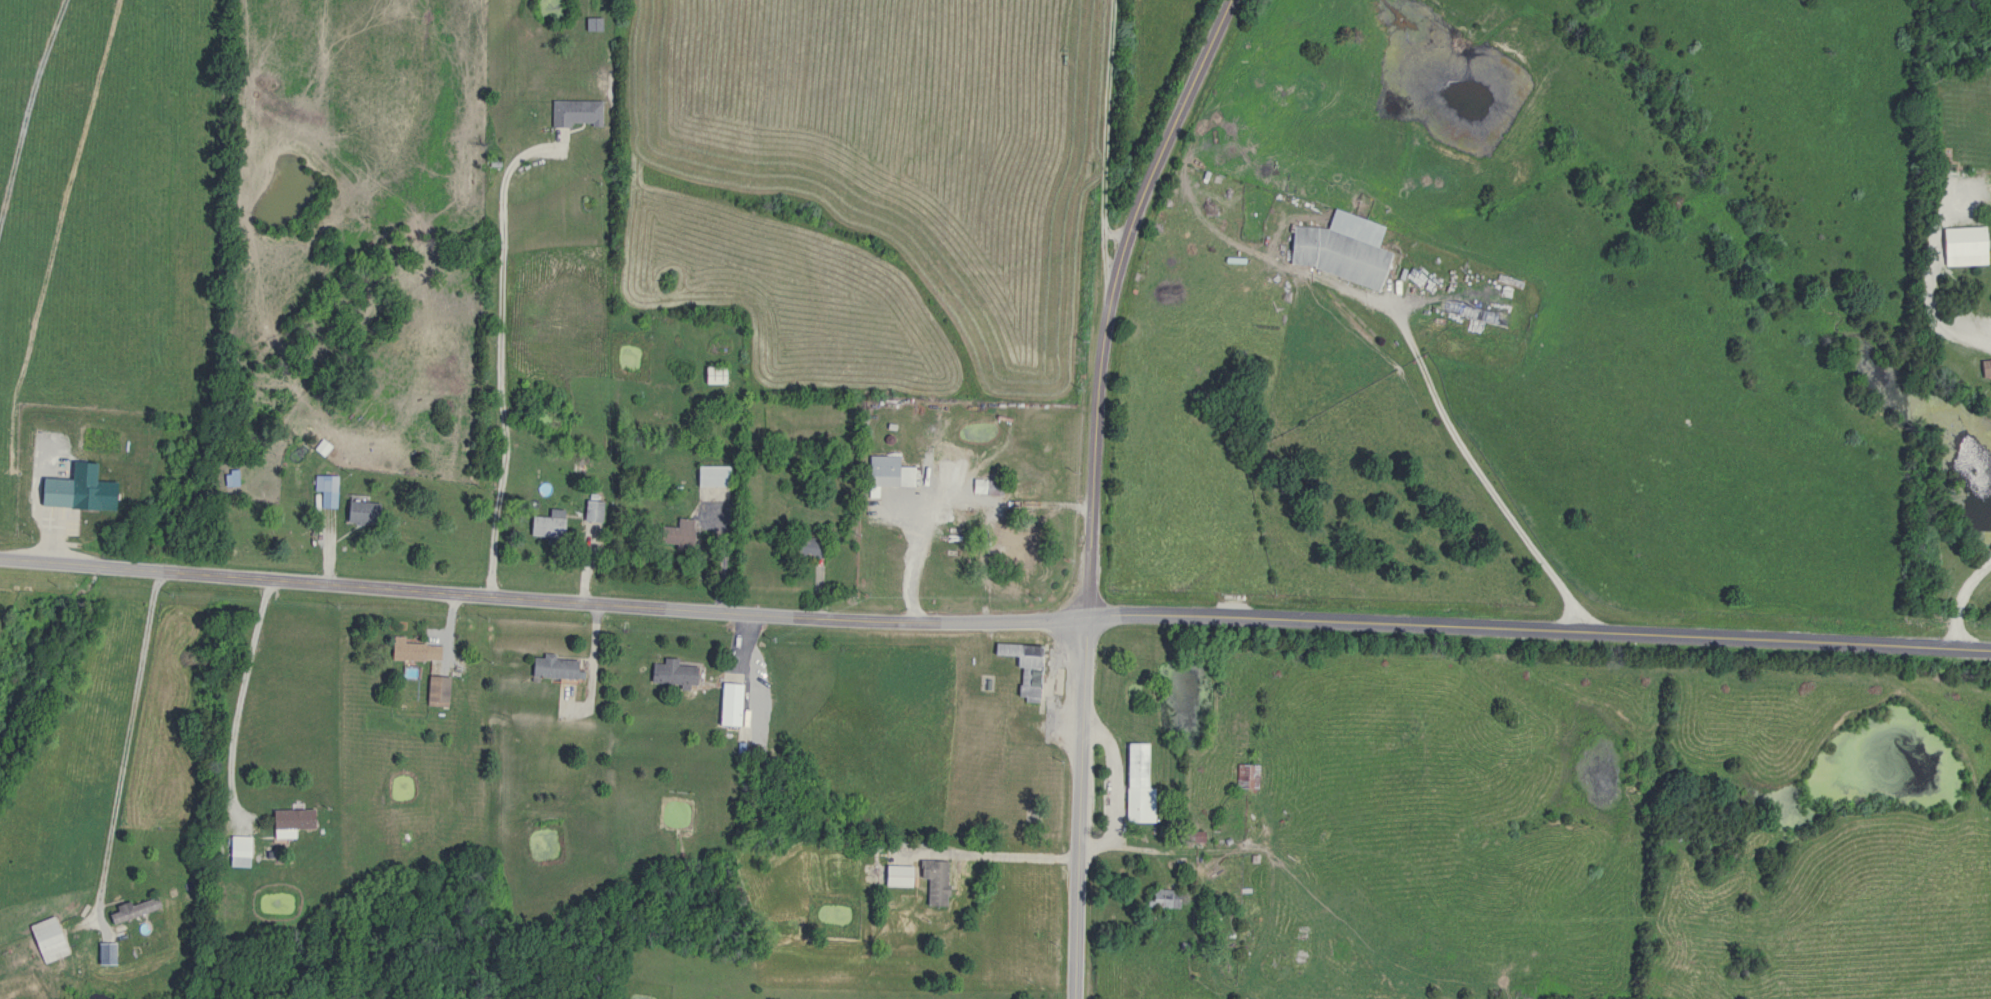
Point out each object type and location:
road: (26, 102)
building: (574, 113)
road: (1102, 148)
building: (1961, 246)
building: (1338, 249)
road: (1109, 297)
road: (1936, 311)
road: (498, 353)
building: (1984, 368)
building: (712, 375)
road: (1435, 406)
building: (48, 449)
building: (884, 474)
building: (708, 477)
building: (324, 484)
building: (993, 490)
building: (53, 492)
building: (590, 511)
building: (360, 513)
building: (546, 524)
building: (674, 534)
building: (1005, 545)
building: (803, 547)
road: (541, 598)
road: (1962, 601)
road: (1536, 631)
building: (411, 651)
building: (549, 668)
building: (1021, 668)
building: (670, 673)
road: (236, 700)
building: (727, 705)
road: (123, 747)
road: (1108, 777)
building: (1244, 777)
building: (1134, 786)
road: (1077, 808)
building: (288, 822)
road: (1163, 849)
building: (236, 851)
road: (1003, 854)
building: (894, 877)
building: (932, 882)
building: (1159, 898)
building: (131, 910)
building: (44, 941)
building: (101, 954)

